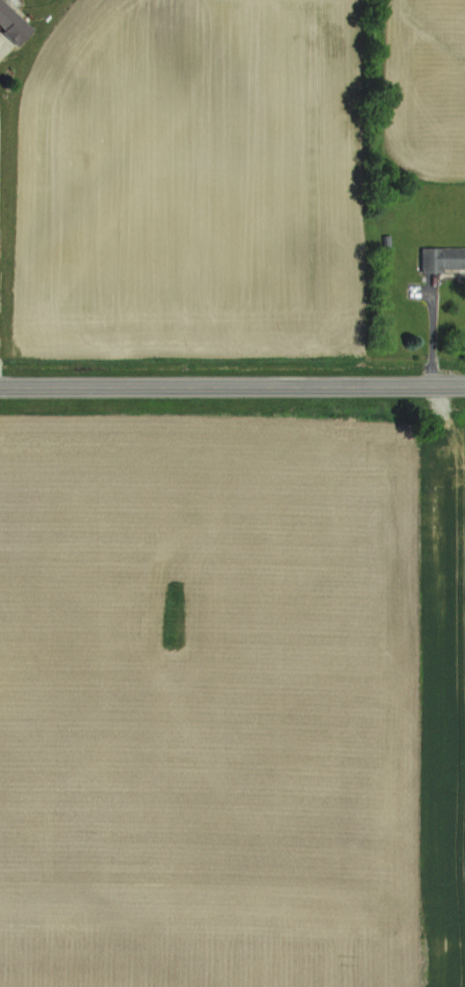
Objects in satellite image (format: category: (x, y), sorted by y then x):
building: (15, 23)
building: (445, 260)
road: (433, 331)
road: (232, 385)

